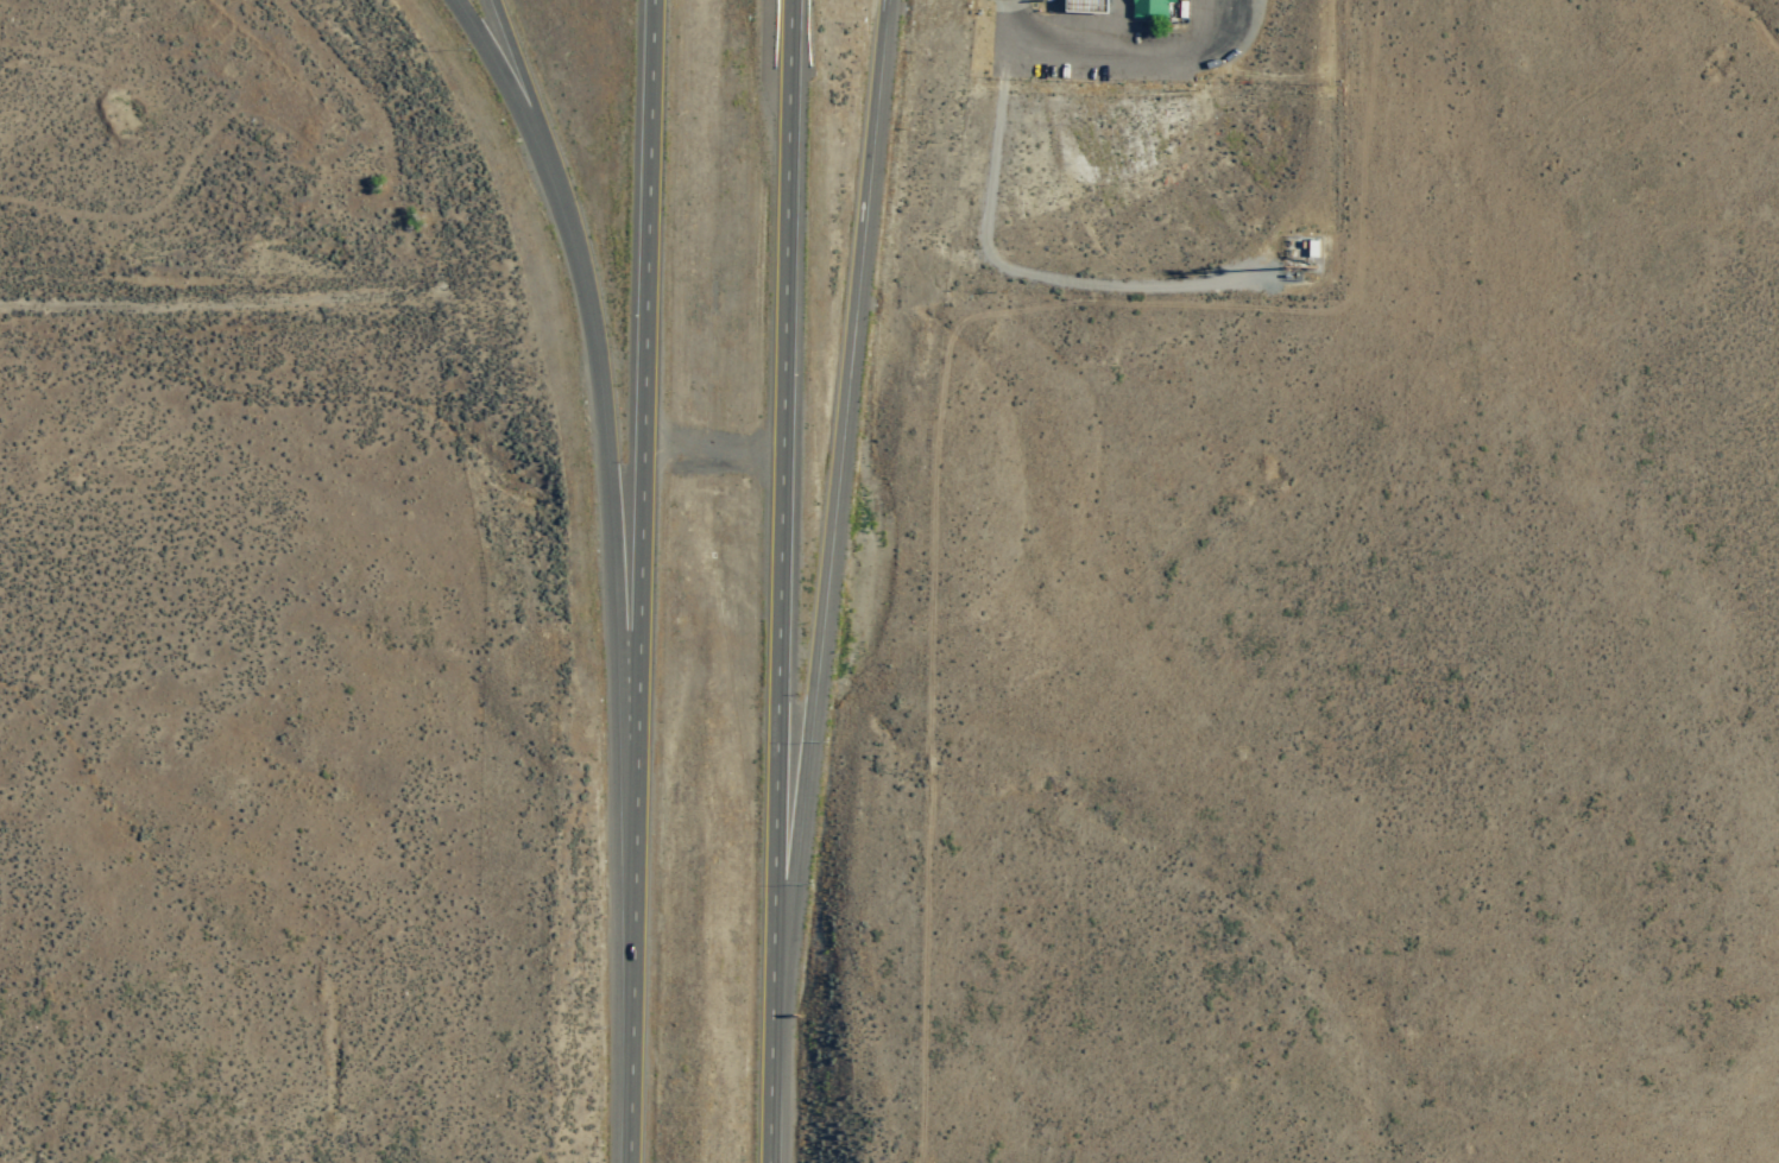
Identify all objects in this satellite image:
building: (1091, 6)
building: (1154, 8)
crop: (1687, 48)
road: (509, 80)
road: (522, 82)
road: (214, 303)
crop: (19, 318)
road: (639, 377)
road: (611, 456)
road: (780, 498)
road: (832, 499)
road: (930, 581)
road: (632, 959)
road: (770, 1080)

